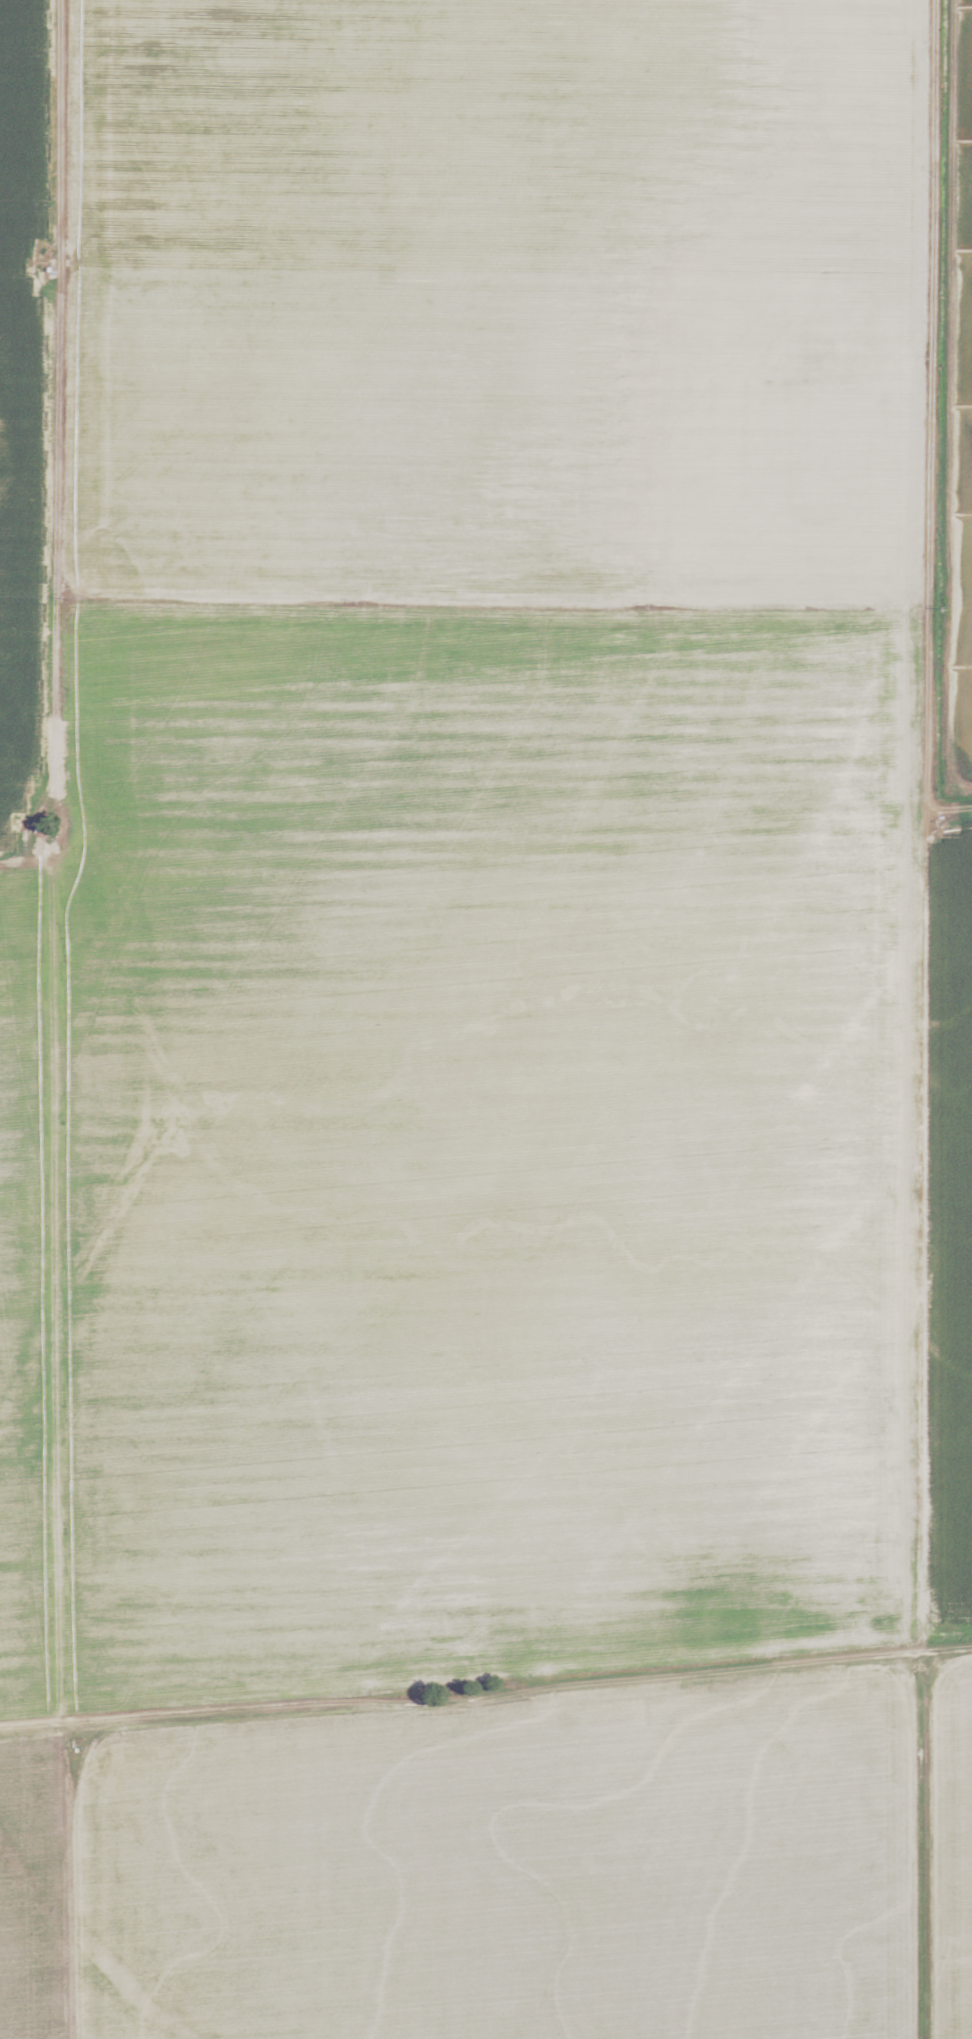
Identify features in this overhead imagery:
road: (60, 444)
road: (486, 1700)

